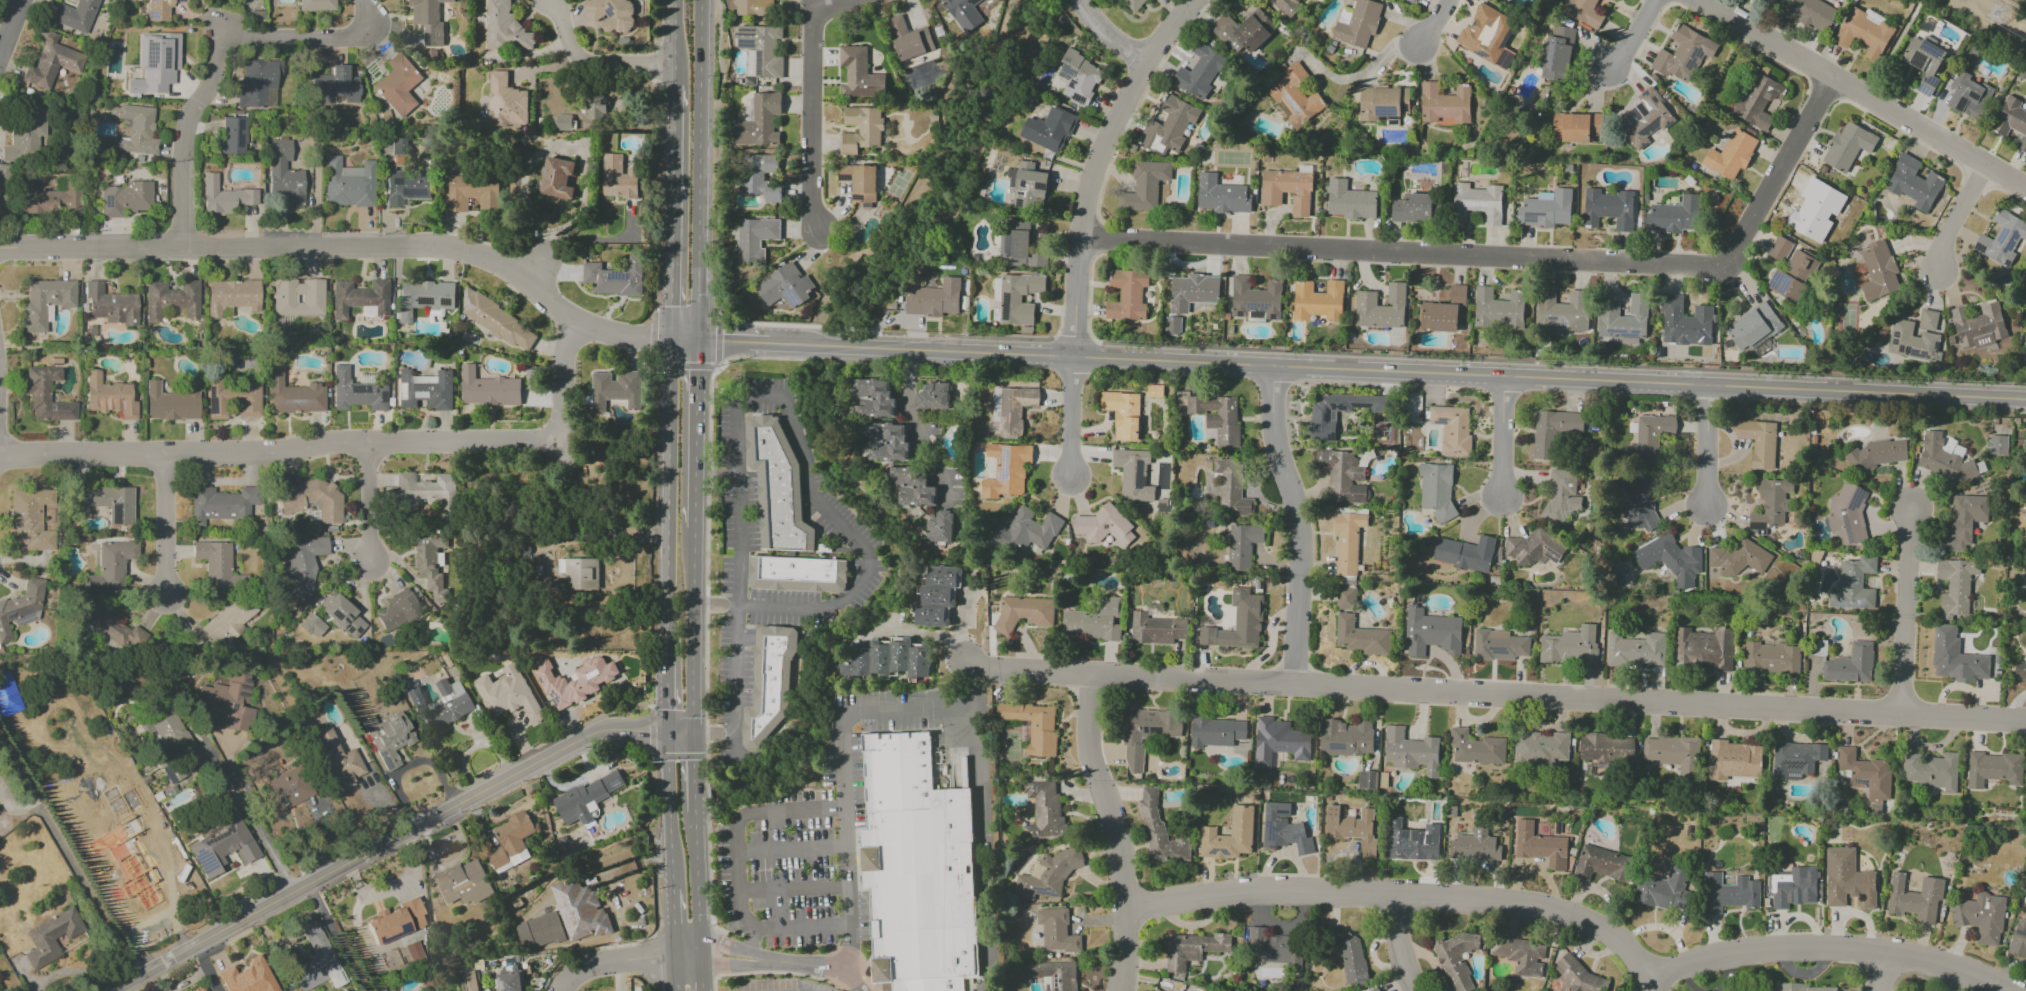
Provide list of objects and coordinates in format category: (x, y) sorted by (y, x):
building: (1411, 1)
building: (1770, 1)
building: (1134, 4)
building: (316, 5)
building: (1285, 6)
building: (752, 7)
road: (2013, 7)
building: (158, 9)
rooftop solar panel: (609, 11)
building: (1582, 12)
building: (963, 13)
building: (1812, 13)
building: (614, 14)
building: (74, 15)
rooftop solar panel: (153, 15)
building: (428, 21)
road: (1439, 22)
road: (10, 27)
building: (504, 28)
building: (1243, 31)
rooftop solar panel: (745, 32)
building: (1486, 32)
building: (1864, 32)
road: (1106, 33)
rooftop solar panel: (745, 37)
road: (1635, 37)
building: (909, 39)
road: (671, 42)
rooftop solar panel: (746, 48)
road: (1895, 48)
rooftop solar panel: (1929, 49)
building: (760, 50)
rooftop solar panel: (1707, 52)
building: (1556, 53)
building: (1683, 54)
rooftop solar panel: (1695, 56)
road: (220, 57)
rooftop solar panel: (1915, 59)
building: (51, 61)
road: (591, 61)
building: (1924, 61)
building: (155, 63)
rooftop solar panel: (1925, 64)
road: (1365, 67)
rooftop solar panel: (1068, 70)
building: (1199, 70)
building: (859, 73)
rooftop solar panel: (1060, 74)
road: (1800, 74)
rooftop solar panel: (1067, 76)
building: (1079, 78)
rooftop solar panel: (1929, 81)
building: (258, 83)
building: (398, 85)
building: (335, 86)
rooftop solar panel: (1923, 90)
road: (1823, 91)
road: (1862, 93)
building: (1967, 95)
rooftop solar panel: (1971, 95)
building: (1294, 96)
rooftop solar panel: (1654, 100)
building: (1757, 100)
building: (506, 102)
building: (1383, 102)
road: (810, 104)
rooftop solar panel: (1647, 104)
rooftop solar panel: (1959, 104)
building: (1445, 105)
building: (595, 106)
rooftop solar panel: (1640, 109)
rooftop solar panel: (1386, 113)
rooftop solar panel: (1634, 115)
building: (1644, 118)
building: (759, 121)
building: (2011, 121)
building: (561, 122)
building: (1169, 125)
building: (1575, 127)
rooftop solar panel: (1649, 127)
building: (134, 129)
building: (861, 129)
building: (1048, 129)
rooftop solar panel: (236, 133)
building: (233, 135)
road: (1907, 136)
building: (26, 137)
building: (1847, 146)
building: (398, 147)
building: (1730, 154)
road: (1096, 162)
road: (698, 169)
building: (284, 173)
building: (761, 177)
building: (556, 178)
building: (618, 178)
road: (1976, 179)
building: (348, 183)
building: (1913, 183)
building: (859, 184)
rooftop solar panel: (1023, 184)
building: (1028, 185)
building: (406, 186)
rooftop solar panel: (1041, 187)
building: (1146, 187)
building: (1287, 190)
road: (2004, 192)
building: (472, 193)
rooftop solar panel: (1019, 194)
building: (1221, 195)
building: (224, 197)
rooftop solar panel: (1358, 198)
building: (125, 199)
rooftop solar panel: (102, 200)
building: (1350, 201)
building: (51, 202)
building: (1477, 203)
rooftop solar panel: (1017, 206)
building: (1412, 208)
building: (1609, 208)
building: (1546, 209)
building: (1816, 210)
road: (670, 211)
building: (1674, 215)
road: (1956, 217)
rooftop solar panel: (2003, 233)
rooftop solar panel: (2014, 234)
building: (754, 238)
building: (2001, 238)
road: (593, 239)
rooftop solar panel: (2000, 240)
rooftop solar panel: (1011, 244)
rooftop solar panel: (2008, 244)
building: (1017, 245)
road: (347, 246)
rooftop solar panel: (1981, 248)
building: (1779, 249)
road: (1513, 254)
road: (532, 270)
building: (1878, 271)
rooftop solar panel: (615, 277)
building: (1792, 277)
building: (615, 278)
rooftop solar panel: (1781, 281)
building: (784, 286)
building: (1192, 291)
building: (1127, 295)
building: (232, 296)
building: (297, 297)
building: (424, 297)
building: (1016, 297)
rooftop solar panel: (792, 298)
building: (934, 298)
building: (1255, 298)
building: (360, 299)
building: (171, 300)
rooftop solar panel: (428, 301)
building: (1317, 301)
building: (45, 302)
rooftop solar panel: (445, 302)
building: (1670, 304)
building: (110, 305)
rooftop solar panel: (1266, 305)
traffic signals: (670, 306)
rooftop solar panel: (1256, 306)
building: (1380, 308)
building: (1498, 309)
building: (1562, 311)
building: (1443, 312)
rooftop solar panel: (1240, 313)
rooftop solar panel: (1258, 314)
building: (1622, 318)
building: (1927, 320)
building: (499, 323)
building: (1172, 325)
building: (1688, 327)
building: (1754, 327)
rooftop solar panel: (1896, 334)
rooftop solar panel: (1627, 335)
traffic signals: (649, 338)
road: (683, 338)
traffic signals: (724, 340)
road: (732, 340)
building: (1911, 341)
rooftop solar panel: (1894, 343)
rooftop solar panel: (1934, 345)
rooftop solar panel: (1902, 349)
rooftop solar panel: (1907, 349)
rooftop solar panel: (1915, 353)
traffic signals: (696, 371)
road: (1397, 372)
road: (563, 380)
road: (2015, 385)
building: (488, 389)
rooftop solar panel: (360, 390)
rooftop solar panel: (375, 390)
building: (424, 390)
building: (614, 391)
building: (1154, 391)
building: (356, 392)
building: (46, 395)
building: (293, 395)
rooftop solar panel: (610, 395)
building: (933, 395)
building: (110, 396)
rooftop solar panel: (383, 397)
road: (770, 397)
building: (874, 398)
building: (234, 400)
building: (170, 404)
building: (1012, 407)
building: (1337, 411)
building: (1122, 414)
road: (1071, 417)
road: (913, 418)
building: (1217, 418)
rooftop solar panel: (1443, 421)
building: (1451, 429)
building: (1552, 431)
road: (695, 433)
road: (1502, 436)
building: (1648, 439)
building: (1758, 442)
building: (888, 443)
building: (1997, 445)
road: (1706, 447)
road: (277, 453)
building: (1877, 455)
building: (1943, 460)
rooftop solar panel: (1005, 461)
building: (1006, 470)
building: (1133, 474)
rooftop solar panel: (1137, 475)
building: (1342, 476)
building: (912, 486)
building: (778, 487)
building: (1231, 488)
building: (422, 489)
building: (1436, 490)
building: (1562, 493)
road: (667, 498)
building: (1638, 499)
building: (312, 500)
rooftop solar panel: (1857, 500)
building: (108, 502)
road: (368, 504)
building: (220, 505)
building: (1769, 505)
rooftop solar panel: (115, 514)
building: (1847, 514)
building: (30, 519)
building: (1964, 521)
road: (1296, 523)
rooftop solar panel: (1758, 525)
road: (164, 527)
building: (940, 528)
rooftop solar panel: (1763, 531)
building: (1022, 532)
rooftop solar panel: (1759, 532)
building: (1347, 541)
building: (1242, 545)
building: (1533, 549)
building: (1464, 553)
building: (429, 559)
building: (1670, 559)
building: (1740, 560)
rooftop solar panel: (1666, 561)
building: (110, 565)
building: (303, 565)
building: (219, 568)
parking lot: (870, 572)
building: (579, 573)
building: (798, 574)
building: (1853, 585)
building: (1955, 585)
rooftop solar panel: (101, 587)
building: (937, 596)
building: (1345, 598)
road: (714, 604)
building: (21, 606)
road: (1905, 609)
building: (398, 611)
building: (1023, 612)
rooftop solar panel: (8, 615)
building: (341, 615)
rooftop solar panel: (334, 616)
rooftop solar panel: (346, 616)
rooftop solar panel: (22, 617)
rooftop solar panel: (25, 621)
rooftop solar panel: (342, 621)
building: (1093, 621)
building: (1242, 621)
building: (222, 623)
building: (312, 626)
building: (113, 628)
rooftop solar panel: (345, 628)
road: (691, 628)
building: (1156, 629)
rooftop solar panel: (348, 631)
rooftop solar panel: (358, 631)
building: (1430, 632)
rooftop solar panel: (1432, 635)
road: (936, 636)
building: (1360, 637)
building: (1498, 645)
building: (1569, 646)
building: (1704, 648)
building: (1634, 649)
building: (1954, 657)
building: (1771, 658)
building: (887, 659)
building: (1850, 664)
building: (2019, 670)
building: (574, 681)
building: (769, 687)
building: (507, 694)
road: (665, 694)
road: (1494, 694)
building: (8, 695)
building: (229, 699)
building: (441, 704)
road: (917, 710)
traffic signals: (665, 711)
building: (1033, 726)
traffic signals: (647, 730)
road: (712, 732)
building: (1217, 732)
building: (1146, 733)
building: (388, 738)
building: (1346, 738)
building: (1279, 741)
building: (168, 742)
rooftop solar panel: (1339, 745)
road: (735, 747)
building: (1475, 748)
building: (1606, 748)
building: (1539, 749)
building: (1411, 751)
building: (1671, 752)
rooftop solar panel: (1261, 755)
building: (338, 760)
building: (1733, 760)
building: (1796, 760)
traffic signals: (692, 762)
road: (407, 765)
building: (1994, 769)
road: (692, 771)
building: (1931, 771)
building: (899, 774)
building: (1865, 776)
building: (1367, 780)
rooftop solar panel: (617, 783)
building: (285, 790)
building: (585, 799)
road: (668, 810)
building: (1044, 812)
rooftop solar panel: (1282, 812)
road: (249, 818)
parking lot: (822, 827)
building: (1353, 828)
road: (1112, 830)
building: (1283, 830)
building: (1160, 832)
building: (1229, 836)
road: (394, 840)
building: (510, 841)
building: (1411, 841)
building: (222, 845)
building: (1474, 846)
building: (1539, 846)
building: (144, 849)
road: (791, 849)
rooftop solar panel: (206, 862)
building: (1602, 864)
road: (737, 871)
building: (1048, 874)
building: (1847, 879)
building: (464, 883)
rooftop solar panel: (474, 885)
road: (696, 885)
building: (1792, 887)
road: (793, 888)
building: (924, 888)
rooftop solar panel: (469, 889)
building: (1663, 889)
rooftop solar panel: (462, 891)
building: (127, 893)
building: (1728, 893)
building: (1914, 898)
building: (579, 911)
building: (1981, 917)
road: (1580, 920)
building: (395, 921)
road: (673, 924)
rooftop solar panel: (402, 928)
building: (539, 930)
building: (1056, 931)
building: (51, 937)
road: (338, 937)
building: (2018, 938)
road: (751, 939)
road: (733, 944)
road: (1400, 945)
building: (1273, 948)
building: (1192, 949)
building: (1519, 954)
building: (1349, 955)
building: (1457, 959)
building: (317, 962)
road: (628, 963)
road: (735, 967)
road: (820, 967)
road: (207, 968)
road: (1880, 972)
road: (675, 974)
building: (1053, 974)
road: (700, 975)
building: (1577, 976)
building: (248, 977)
building: (507, 978)
building: (467, 980)
building: (936, 982)
road: (1650, 984)
parking lot: (783, 986)
rooftop solar panel: (500, 987)
building: (1808, 988)
building: (198, 989)
building: (1376, 989)
building: (1746, 990)

